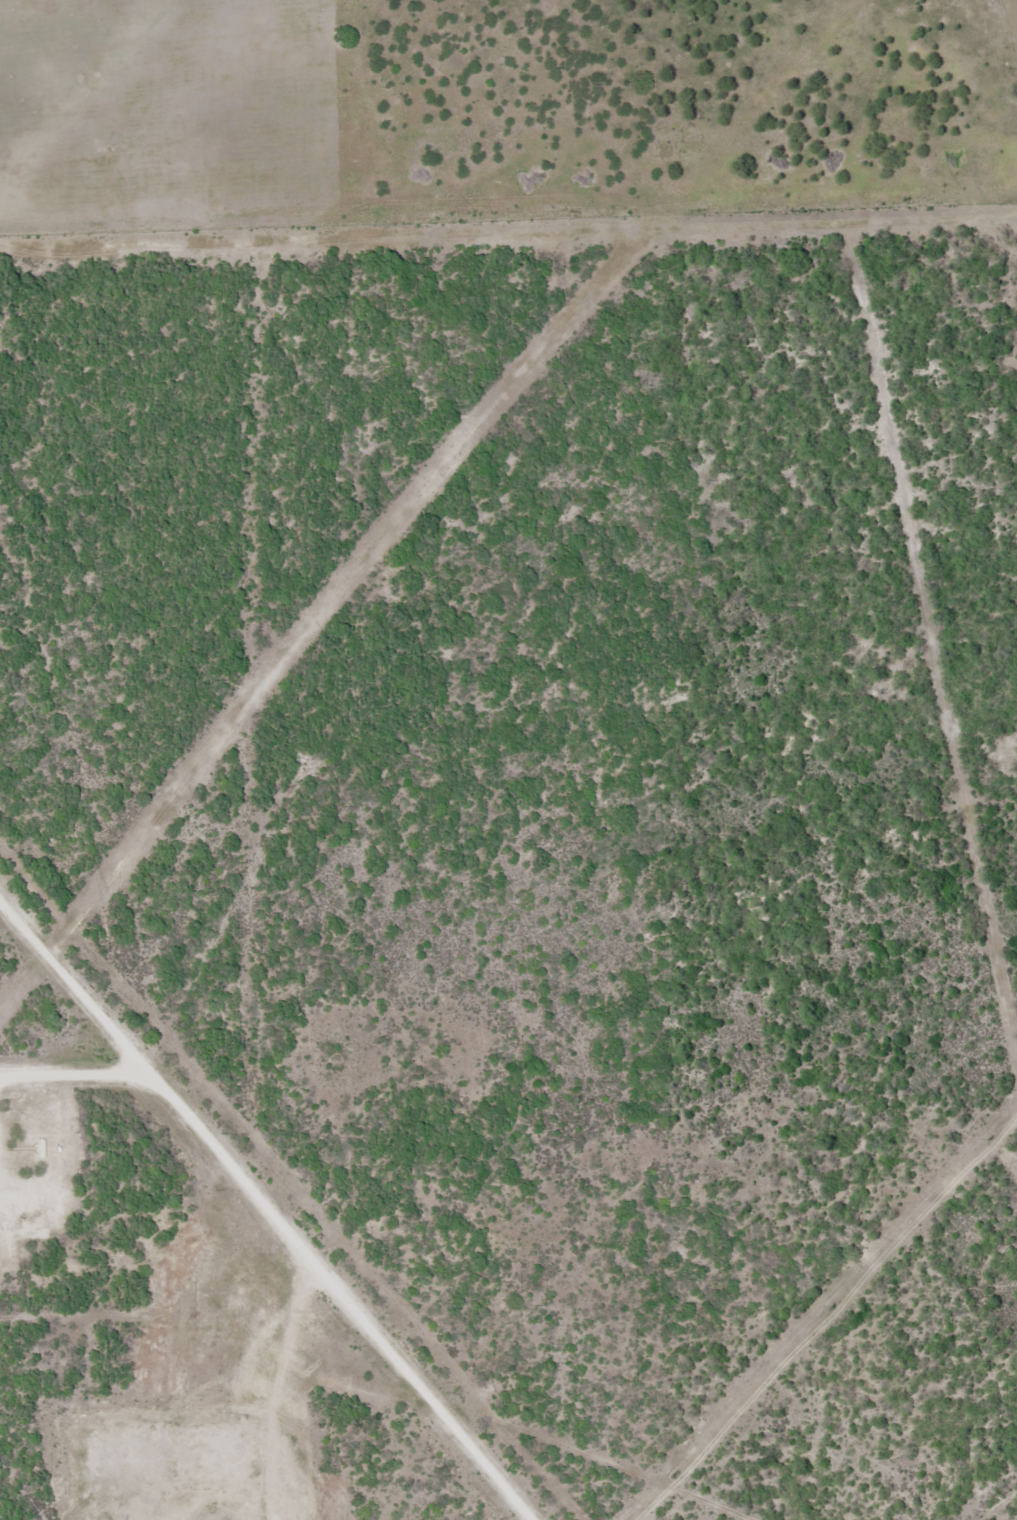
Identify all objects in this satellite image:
road: (59, 1056)
road: (251, 1223)

